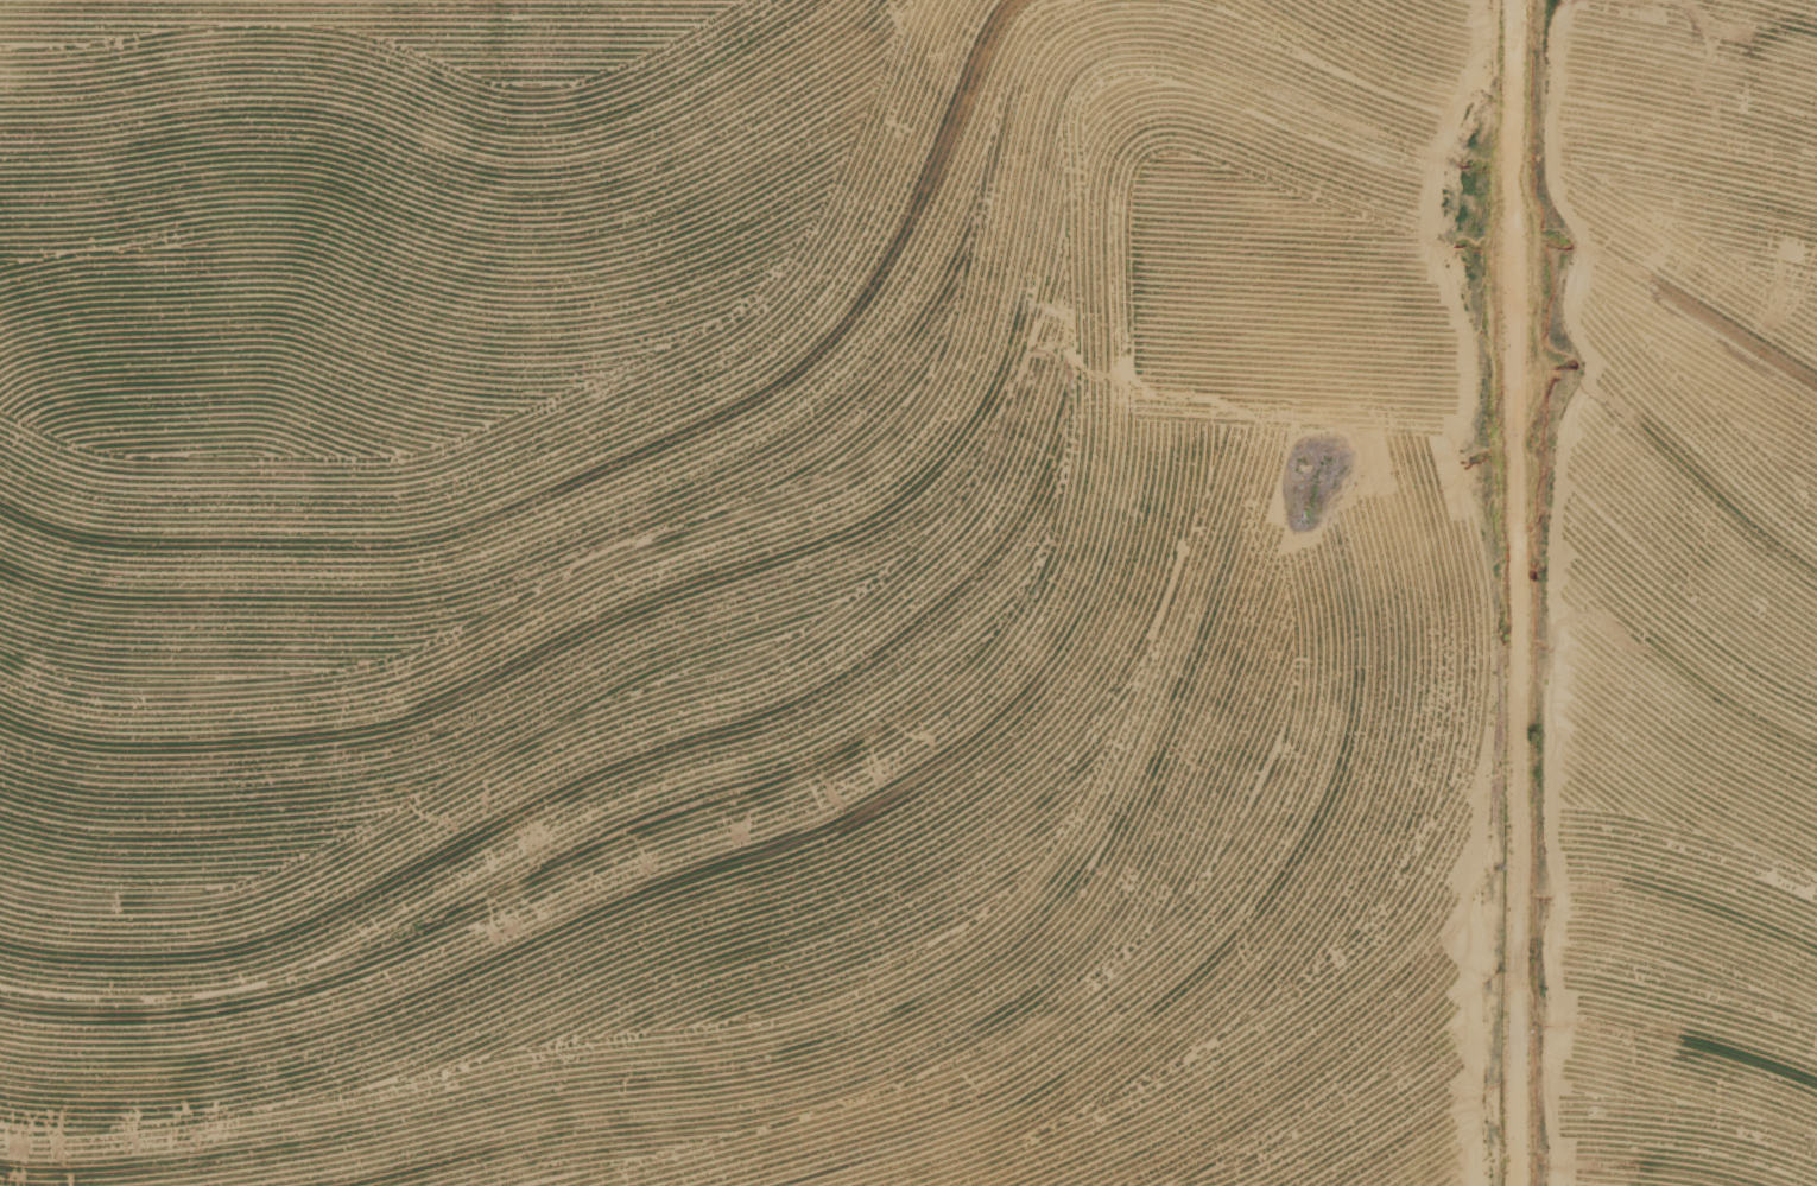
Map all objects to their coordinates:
road: (1520, 592)

